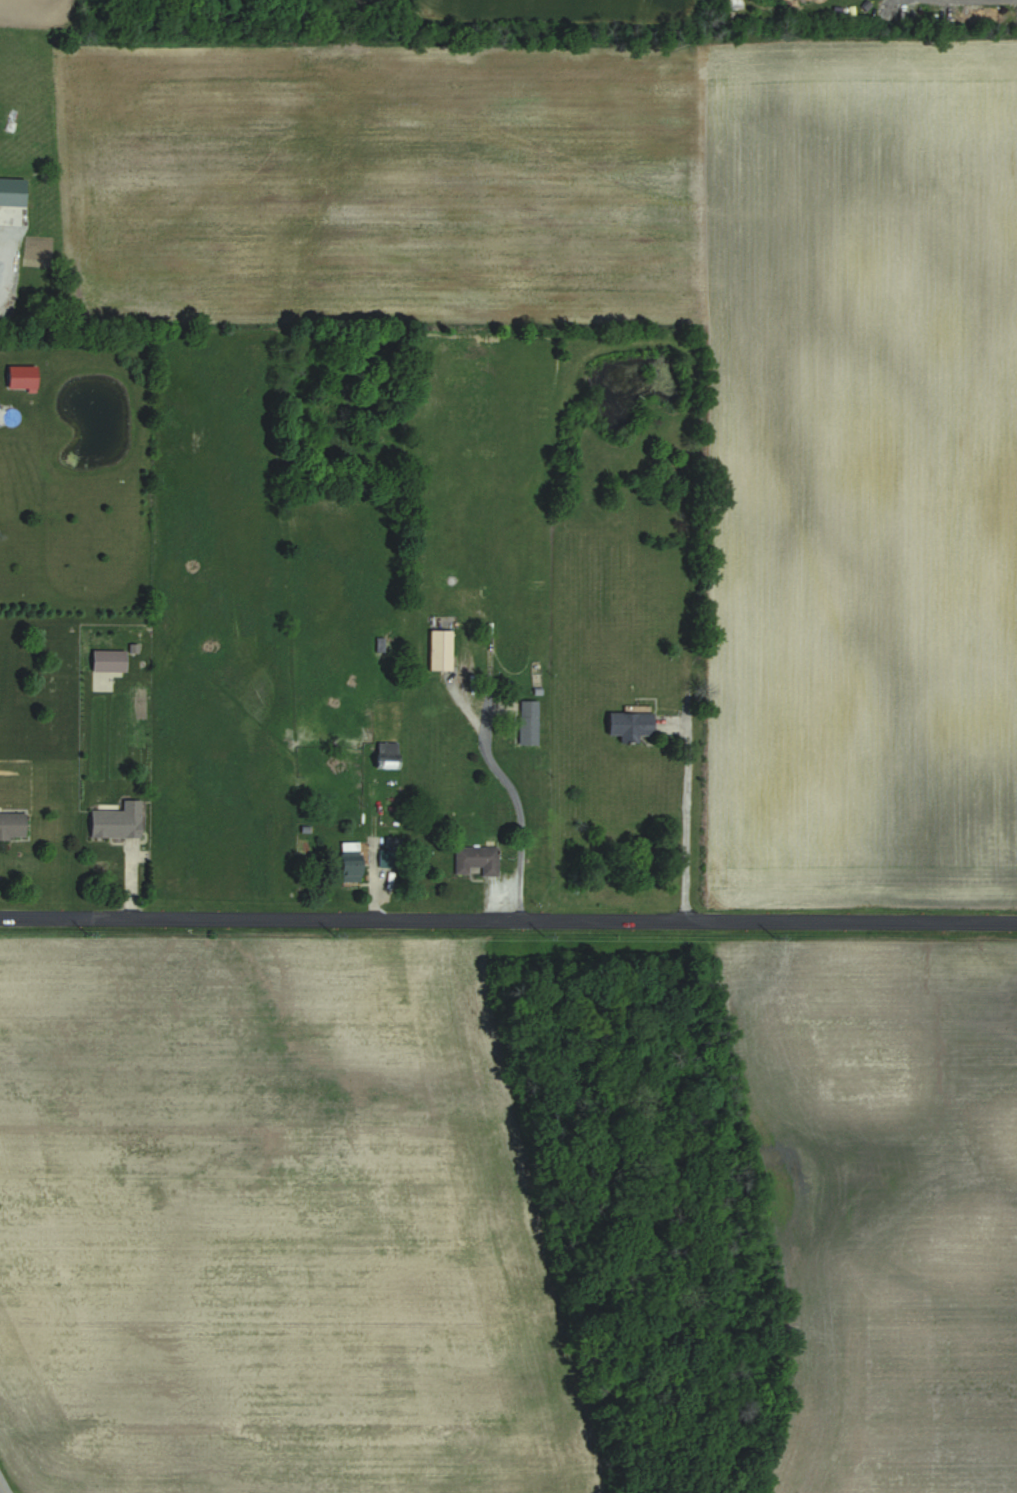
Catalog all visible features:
road: (970, 0)
building: (21, 378)
building: (440, 649)
building: (108, 660)
building: (528, 722)
building: (630, 725)
building: (387, 755)
road: (519, 819)
road: (686, 819)
building: (117, 821)
building: (12, 825)
building: (388, 858)
building: (475, 860)
building: (350, 861)
road: (508, 919)
road: (3, 1486)

